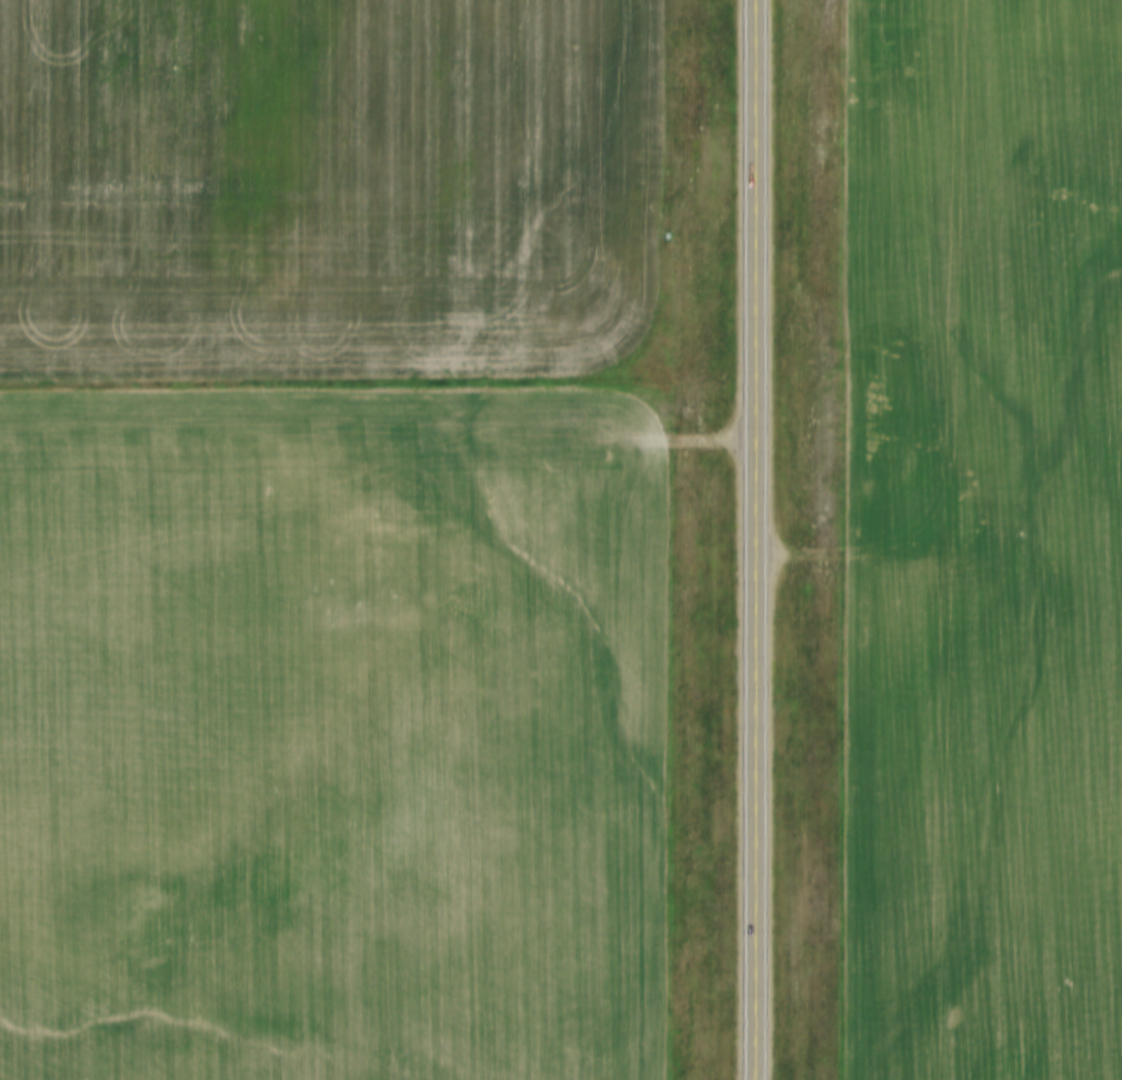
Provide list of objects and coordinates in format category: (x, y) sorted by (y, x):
road: (762, 540)
road: (892, 564)

